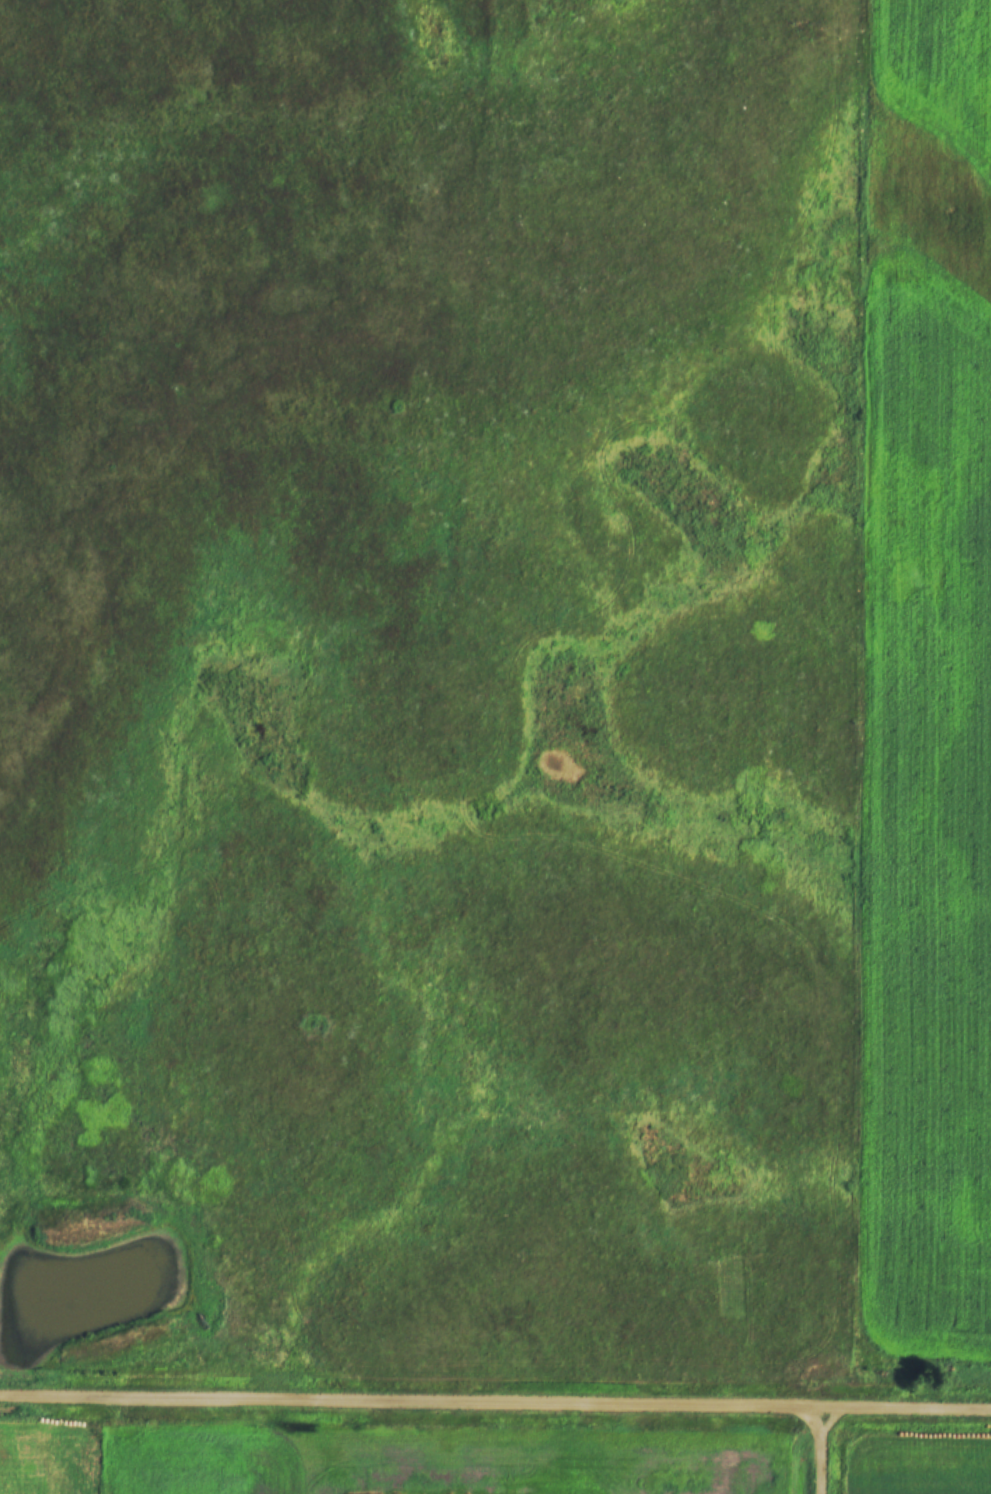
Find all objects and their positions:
road: (495, 1400)
road: (822, 1450)

